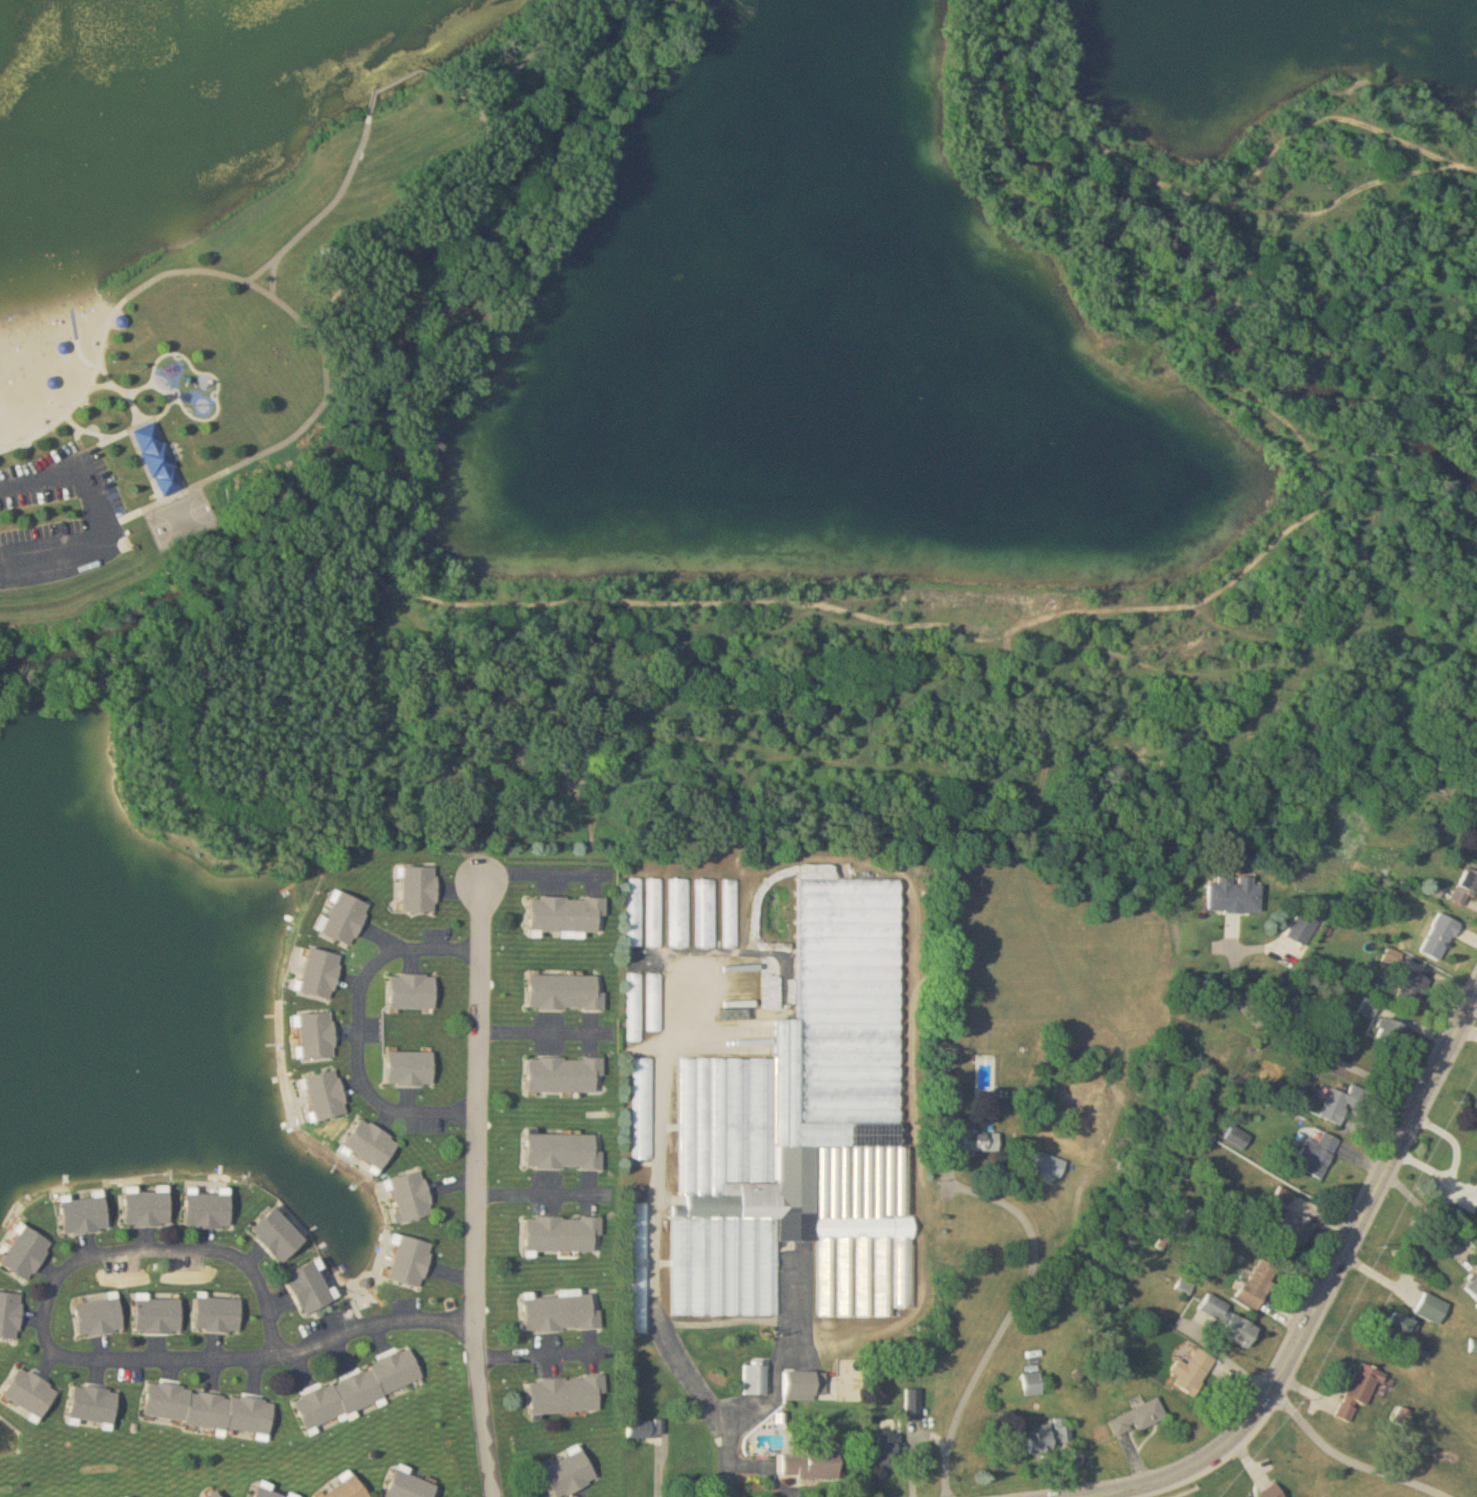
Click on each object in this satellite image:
road: (513, 68)
road: (398, 82)
road: (1314, 119)
road: (1207, 196)
road: (325, 209)
road: (421, 242)
park: (222, 258)
river: (1194, 267)
road: (487, 276)
road: (274, 279)
road: (106, 330)
road: (1205, 361)
road: (154, 367)
road: (139, 389)
road: (264, 452)
building: (157, 461)
road: (145, 466)
road: (145, 508)
parking lot: (59, 518)
road: (104, 518)
park: (180, 520)
road: (967, 624)
road: (482, 692)
road: (376, 725)
road: (993, 777)
building: (1471, 808)
road: (543, 873)
building: (1466, 888)
building: (419, 889)
building: (1236, 895)
building: (635, 911)
building: (654, 912)
building: (680, 913)
building: (706, 913)
building: (568, 914)
building: (344, 918)
building: (1306, 922)
building: (1439, 934)
building: (320, 973)
building: (1413, 981)
building: (413, 991)
building: (565, 992)
building: (1370, 1007)
building: (655, 1011)
building: (635, 1015)
road: (361, 1031)
building: (1393, 1031)
road: (545, 1033)
building: (318, 1035)
road: (1307, 1044)
building: (411, 1068)
building: (566, 1074)
building: (328, 1094)
building: (952, 1099)
road: (481, 1100)
building: (1344, 1102)
building: (644, 1108)
building: (805, 1131)
building: (979, 1138)
building: (373, 1143)
road: (949, 1149)
building: (563, 1151)
building: (1319, 1151)
building: (1052, 1164)
road: (1457, 1164)
building: (413, 1196)
road: (546, 1196)
building: (1476, 1205)
building: (148, 1209)
building: (209, 1210)
building: (85, 1215)
road: (1425, 1216)
building: (639, 1220)
building: (1297, 1227)
building: (564, 1234)
building: (281, 1235)
building: (27, 1253)
road: (657, 1256)
building: (413, 1261)
road: (79, 1262)
building: (1259, 1283)
road: (1326, 1286)
building: (1185, 1287)
building: (1473, 1287)
building: (311, 1288)
building: (1216, 1307)
building: (1433, 1308)
building: (562, 1313)
building: (10, 1315)
building: (219, 1315)
building: (159, 1316)
building: (100, 1317)
road: (1010, 1317)
road: (376, 1324)
building: (1402, 1327)
building: (1241, 1330)
building: (1474, 1346)
road: (782, 1353)
road: (542, 1355)
road: (1226, 1358)
building: (1194, 1371)
building: (755, 1379)
building: (1034, 1384)
building: (804, 1385)
building: (359, 1389)
building: (1358, 1390)
building: (32, 1393)
building: (567, 1394)
building: (913, 1403)
building: (96, 1405)
road: (484, 1409)
building: (210, 1410)
building: (1140, 1417)
building: (639, 1429)
building: (1049, 1436)
road: (914, 1449)
building: (886, 1451)
road: (1349, 1459)
building: (814, 1462)
building: (569, 1474)
building: (409, 1485)
building: (347, 1489)
building: (266, 1491)
building: (1273, 1492)
building: (215, 1494)
building: (292, 1495)

